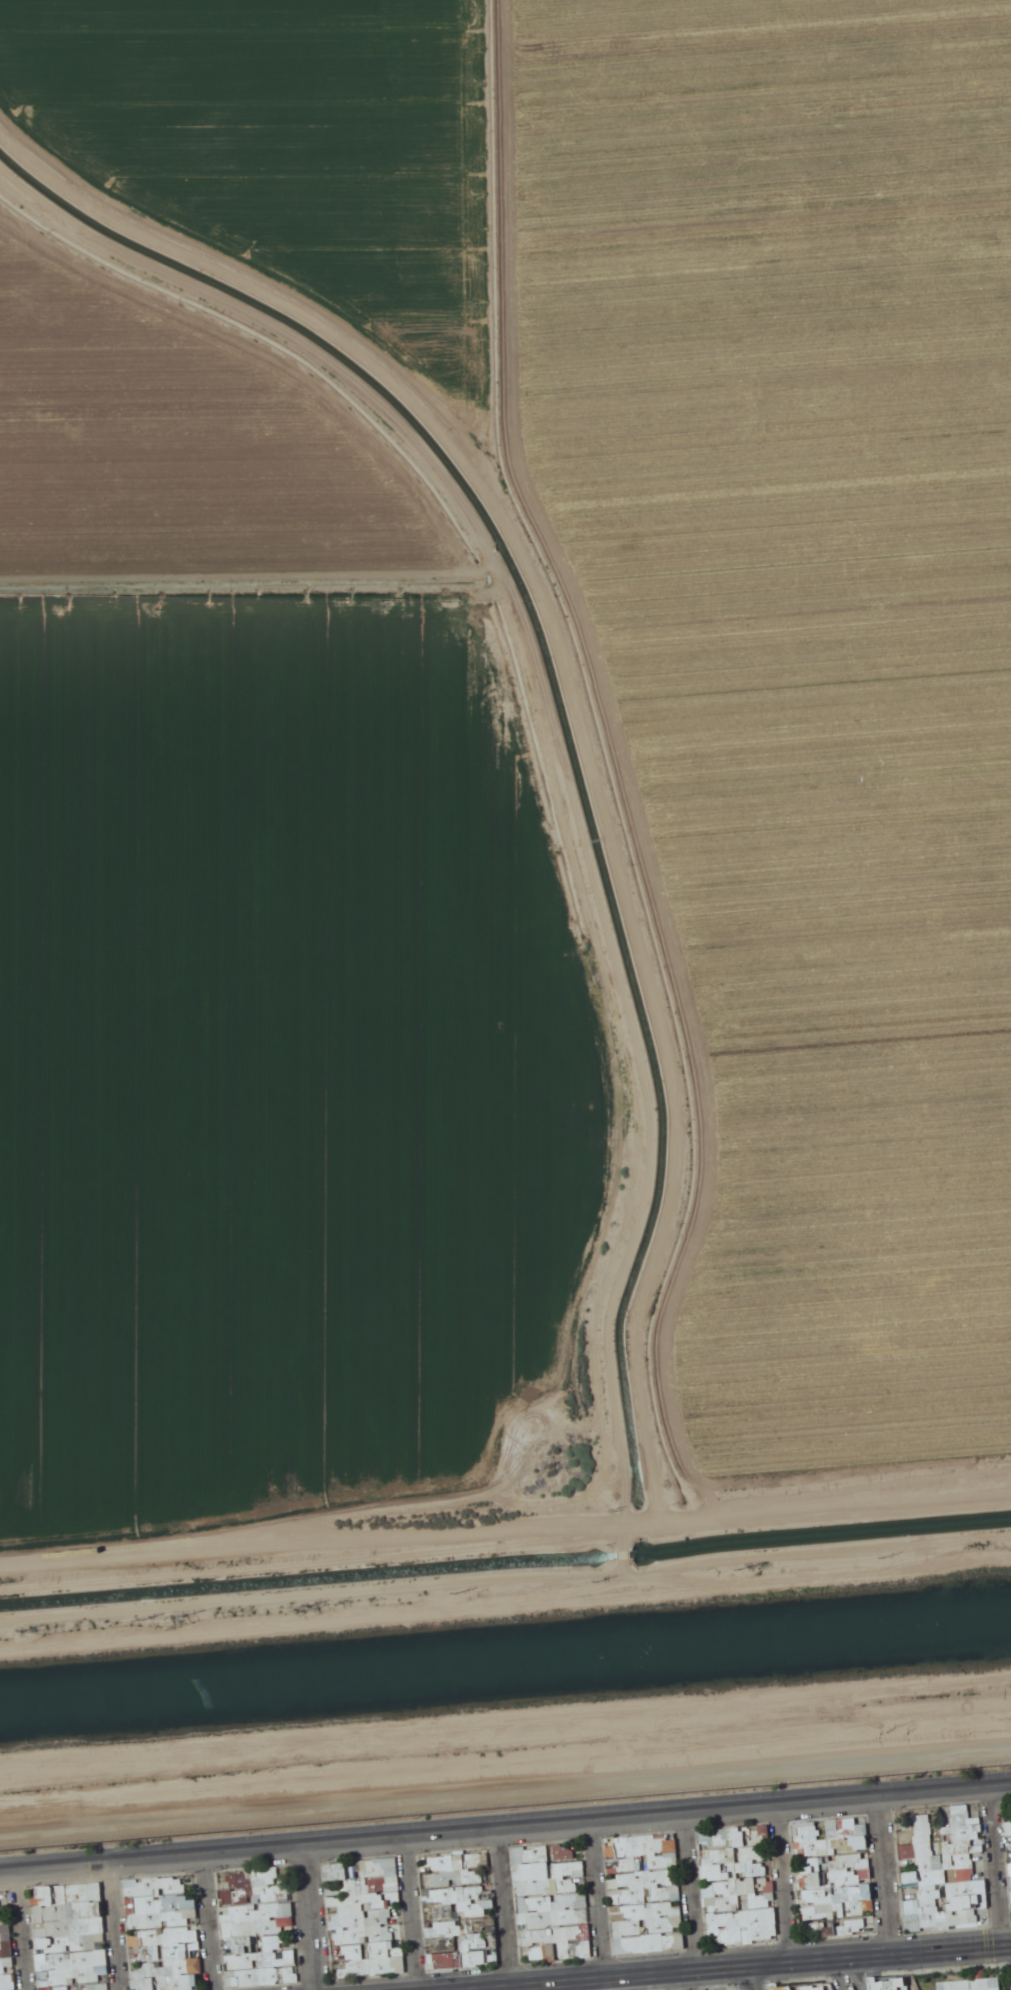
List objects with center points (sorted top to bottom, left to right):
road: (660, 1011)
road: (505, 1829)
building: (751, 1834)
building: (836, 1864)
building: (627, 1865)
road: (996, 1867)
road: (885, 1876)
building: (461, 1882)
building: (910, 1882)
road: (785, 1884)
building: (708, 1891)
road: (692, 1892)
building: (981, 1893)
road: (599, 1900)
road: (506, 1908)
road: (415, 1914)
building: (913, 1915)
road: (310, 1918)
road: (208, 1922)
road: (114, 1926)
road: (23, 1929)
building: (634, 1934)
building: (679, 1940)
building: (243, 1945)
building: (463, 1954)
road: (738, 1967)
road: (856, 1974)
road: (837, 1975)
road: (745, 1978)
building: (890, 1984)
building: (971, 1984)

